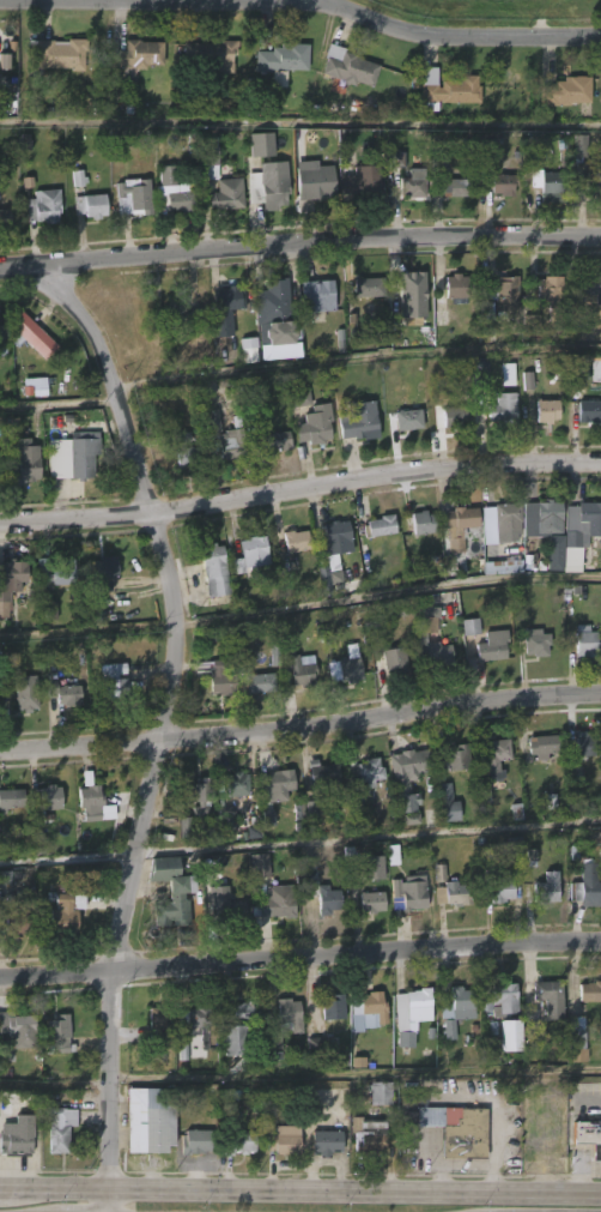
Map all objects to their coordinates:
road: (165, 1)
road: (329, 1)
road: (462, 37)
building: (141, 53)
building: (60, 54)
building: (215, 54)
building: (283, 59)
building: (346, 67)
building: (563, 91)
building: (447, 92)
road: (300, 122)
building: (261, 143)
building: (211, 158)
building: (395, 158)
building: (314, 180)
building: (365, 182)
building: (502, 182)
building: (267, 183)
building: (411, 183)
building: (591, 185)
building: (547, 186)
building: (176, 187)
building: (449, 187)
building: (133, 195)
building: (226, 198)
building: (42, 205)
building: (90, 206)
building: (7, 217)
road: (299, 241)
building: (369, 287)
building: (451, 287)
building: (589, 287)
building: (412, 288)
building: (498, 295)
building: (316, 296)
building: (547, 297)
building: (226, 299)
building: (272, 308)
building: (174, 314)
building: (223, 324)
building: (4, 331)
building: (32, 334)
building: (249, 350)
building: (506, 374)
building: (479, 375)
building: (298, 397)
building: (499, 408)
building: (585, 410)
building: (542, 411)
building: (450, 417)
building: (358, 420)
building: (405, 420)
building: (312, 424)
building: (221, 440)
building: (275, 441)
building: (182, 451)
building: (86, 453)
building: (1, 459)
building: (24, 464)
road: (299, 490)
building: (546, 512)
building: (462, 517)
building: (582, 520)
building: (419, 521)
building: (504, 521)
building: (381, 525)
building: (335, 542)
building: (293, 548)
building: (251, 555)
building: (211, 571)
building: (65, 573)
building: (108, 573)
building: (12, 583)
building: (49, 610)
building: (469, 627)
building: (533, 641)
building: (584, 641)
building: (488, 646)
building: (274, 656)
building: (437, 656)
building: (394, 661)
building: (346, 671)
building: (298, 676)
building: (221, 679)
building: (117, 682)
building: (255, 685)
building: (63, 692)
building: (25, 693)
road: (171, 708)
road: (300, 720)
building: (540, 744)
building: (584, 744)
building: (454, 756)
building: (493, 756)
building: (316, 771)
building: (363, 771)
building: (237, 784)
building: (274, 785)
building: (400, 786)
building: (201, 795)
building: (50, 796)
building: (12, 798)
building: (92, 802)
building: (444, 802)
building: (226, 814)
road: (370, 837)
building: (259, 866)
building: (370, 866)
building: (5, 879)
building: (584, 887)
building: (547, 888)
building: (316, 890)
building: (500, 890)
building: (169, 892)
building: (450, 892)
building: (403, 894)
building: (368, 900)
building: (225, 905)
building: (280, 909)
building: (69, 910)
building: (14, 924)
road: (300, 960)
building: (588, 990)
building: (499, 997)
building: (546, 997)
building: (414, 1005)
building: (329, 1007)
building: (364, 1008)
building: (454, 1009)
building: (283, 1014)
building: (196, 1015)
building: (163, 1023)
building: (238, 1029)
building: (17, 1033)
building: (62, 1035)
building: (509, 1036)
building: (575, 1039)
building: (274, 1041)
building: (320, 1044)
road: (356, 1074)
building: (376, 1092)
building: (17, 1102)
building: (148, 1121)
building: (62, 1129)
building: (20, 1134)
building: (462, 1135)
building: (369, 1136)
building: (587, 1136)
building: (195, 1141)
building: (235, 1142)
building: (326, 1142)
building: (279, 1144)
road: (466, 1168)
road: (2, 1188)
road: (57, 1188)
road: (356, 1192)
road: (110, 1200)

